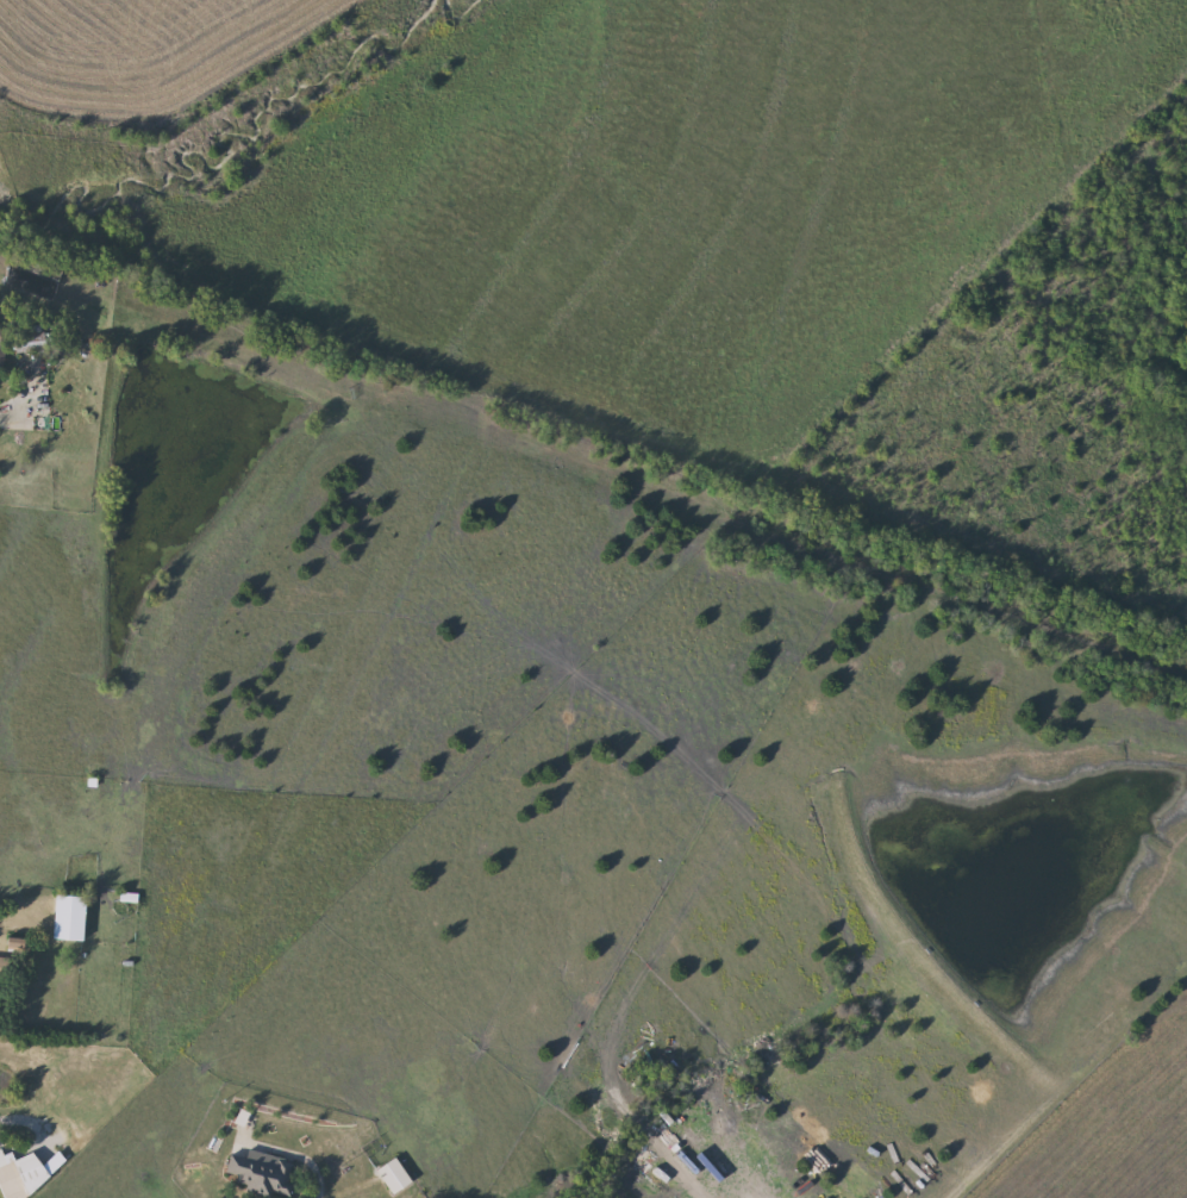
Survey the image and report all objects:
road: (31, 88)
building: (5, 345)
road: (29, 405)
road: (18, 915)
building: (74, 918)
building: (0, 971)
road: (7, 1148)
road: (317, 1171)
building: (261, 1173)
building: (24, 1175)
building: (396, 1177)
road: (129, 1185)

